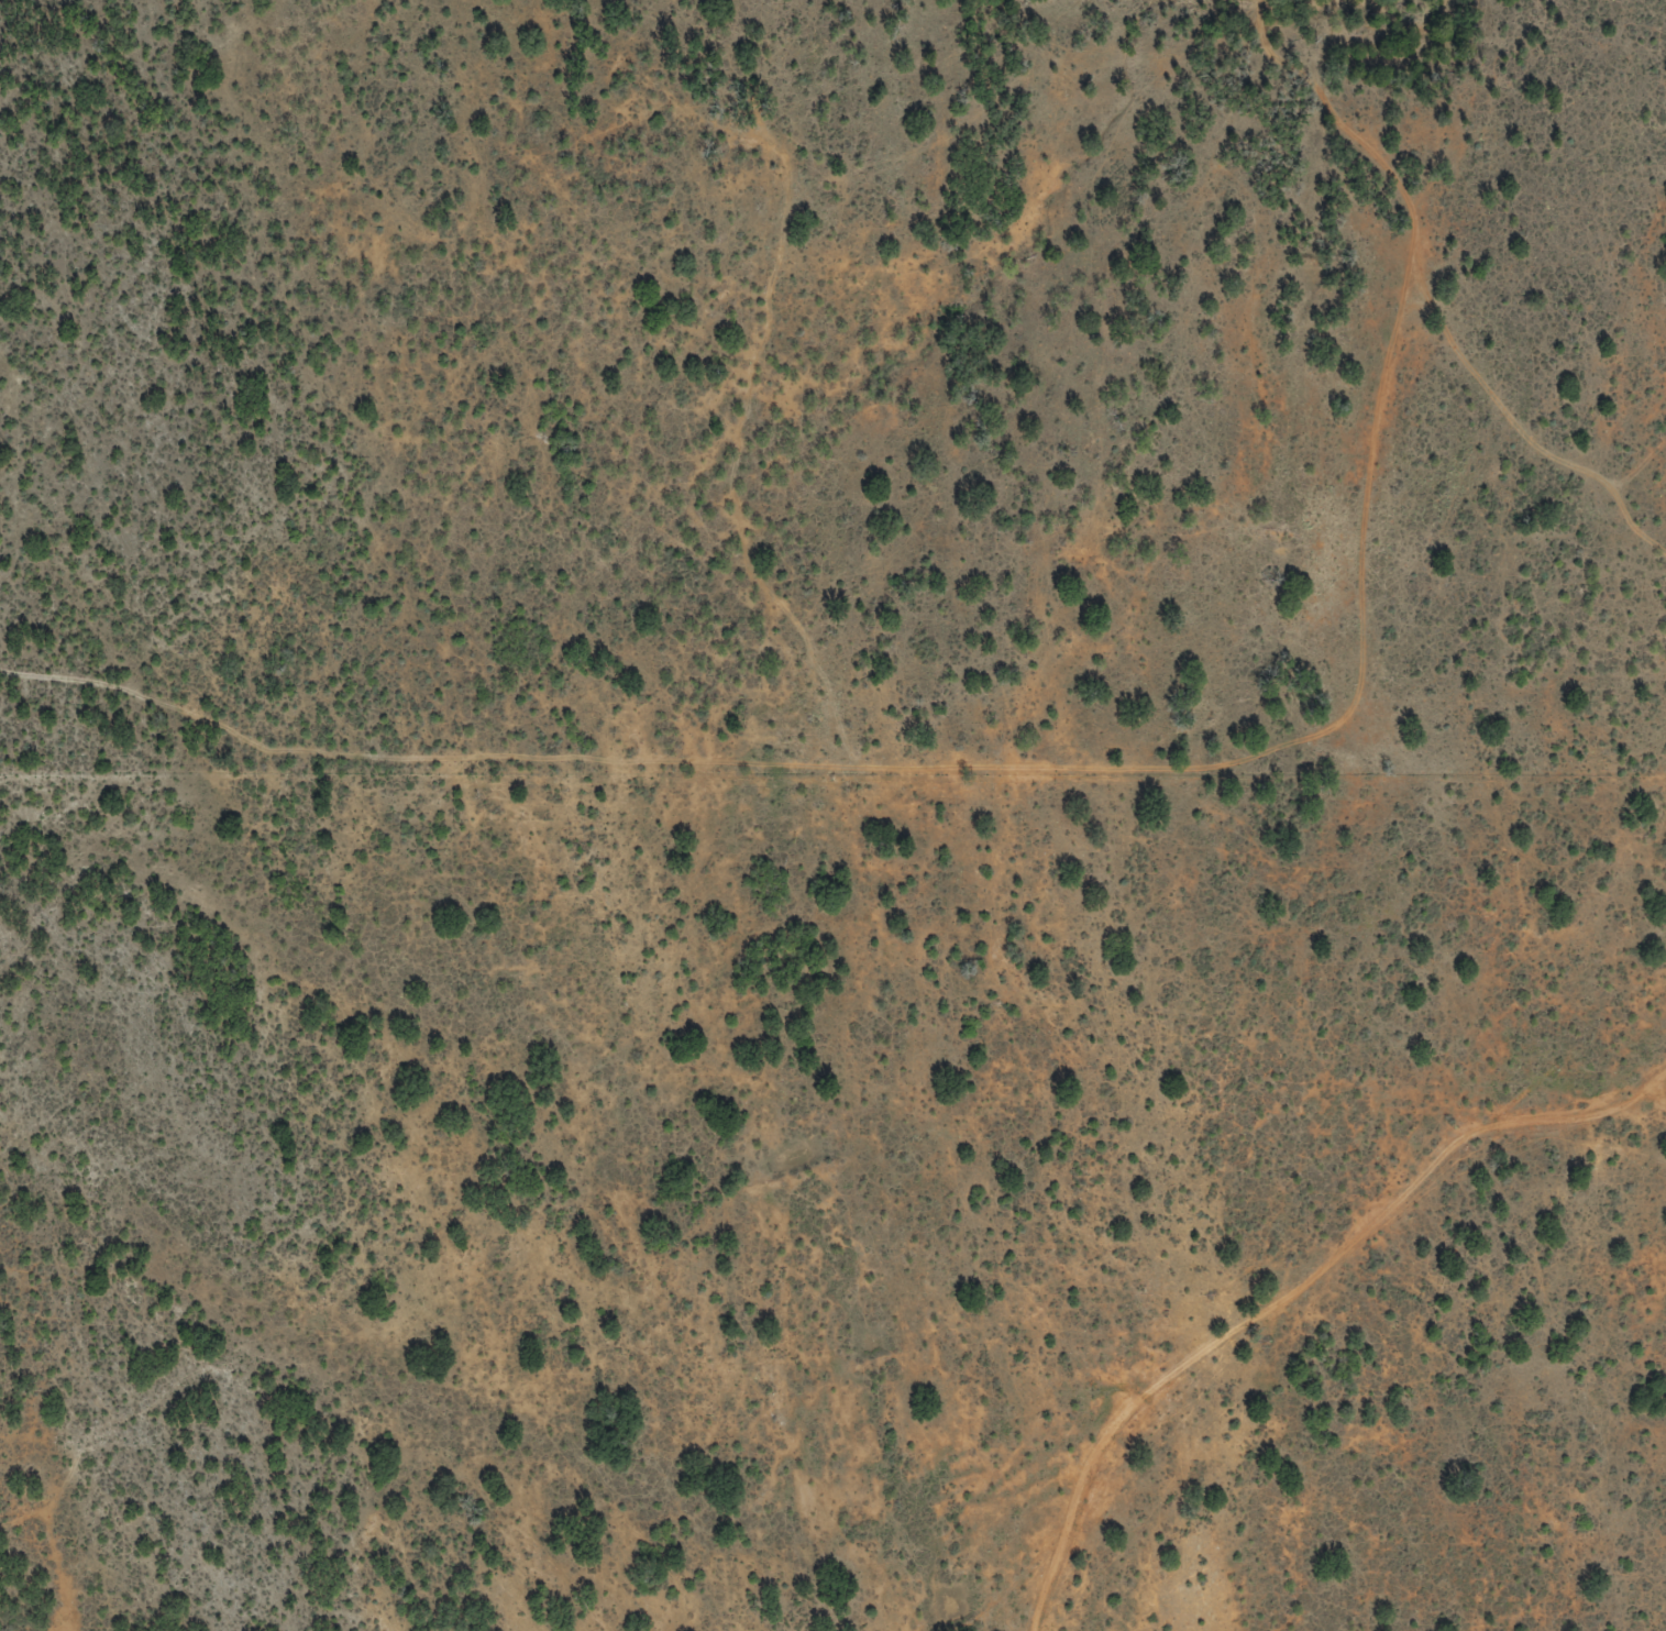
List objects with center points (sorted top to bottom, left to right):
road: (1305, 1307)

